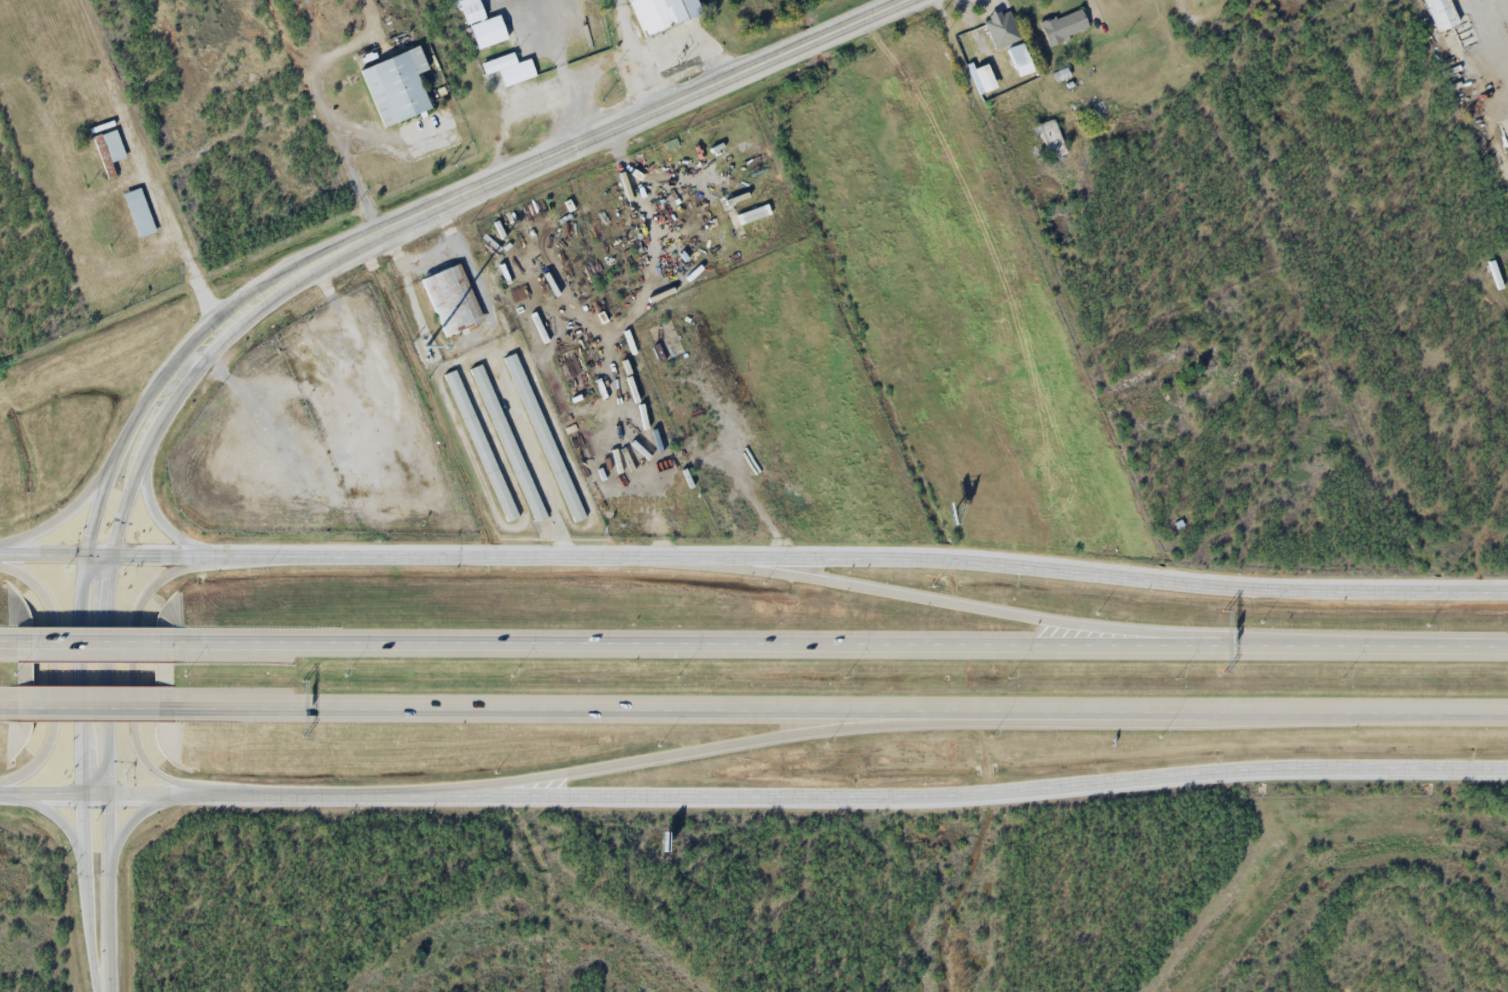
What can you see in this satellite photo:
building: (1214, 0)
building: (662, 13)
building: (1441, 14)
building: (1064, 26)
building: (483, 27)
building: (1001, 28)
building: (1019, 56)
building: (523, 69)
building: (397, 86)
building: (87, 108)
road: (597, 136)
building: (1051, 140)
building: (106, 152)
building: (132, 215)
building: (449, 292)
building: (545, 429)
building: (509, 435)
building: (482, 440)
road: (103, 494)
road: (125, 504)
road: (64, 513)
road: (163, 522)
road: (324, 552)
traffic signals: (87, 553)
traffic signals: (113, 554)
road: (1078, 567)
road: (990, 609)
road: (6, 642)
road: (93, 642)
road: (840, 644)
road: (134, 663)
road: (52, 674)
road: (841, 710)
road: (6, 711)
road: (94, 711)
road: (693, 752)
road: (40, 792)
traffic signals: (81, 792)
traffic signals: (110, 792)
road: (248, 792)
road: (962, 800)
road: (86, 883)
road: (109, 883)
road: (101, 983)

